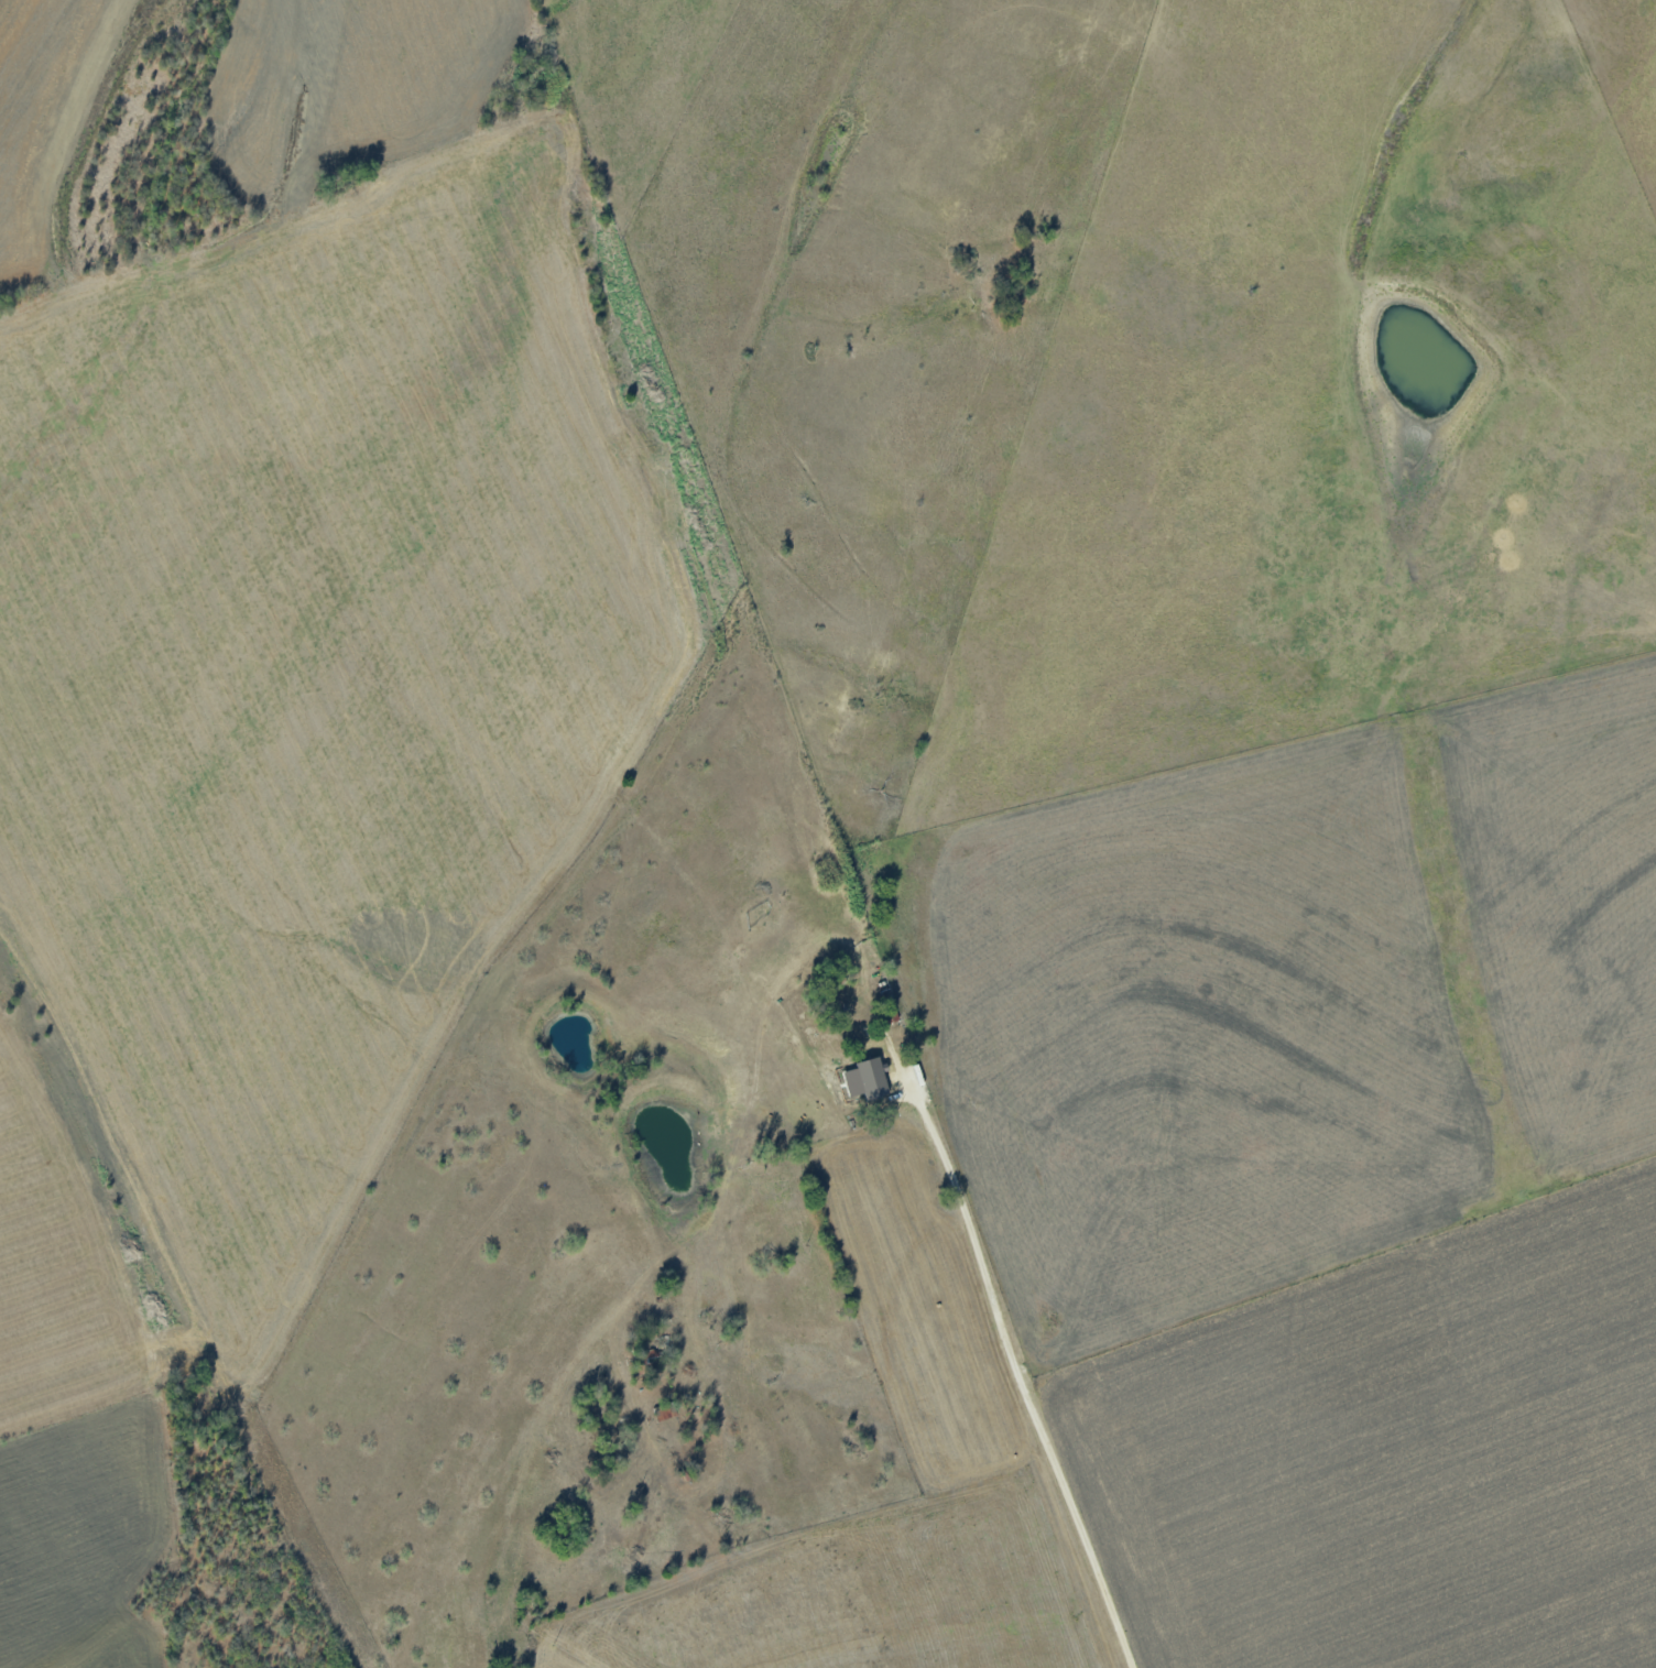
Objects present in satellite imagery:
building: (872, 1077)
road: (1024, 1406)

